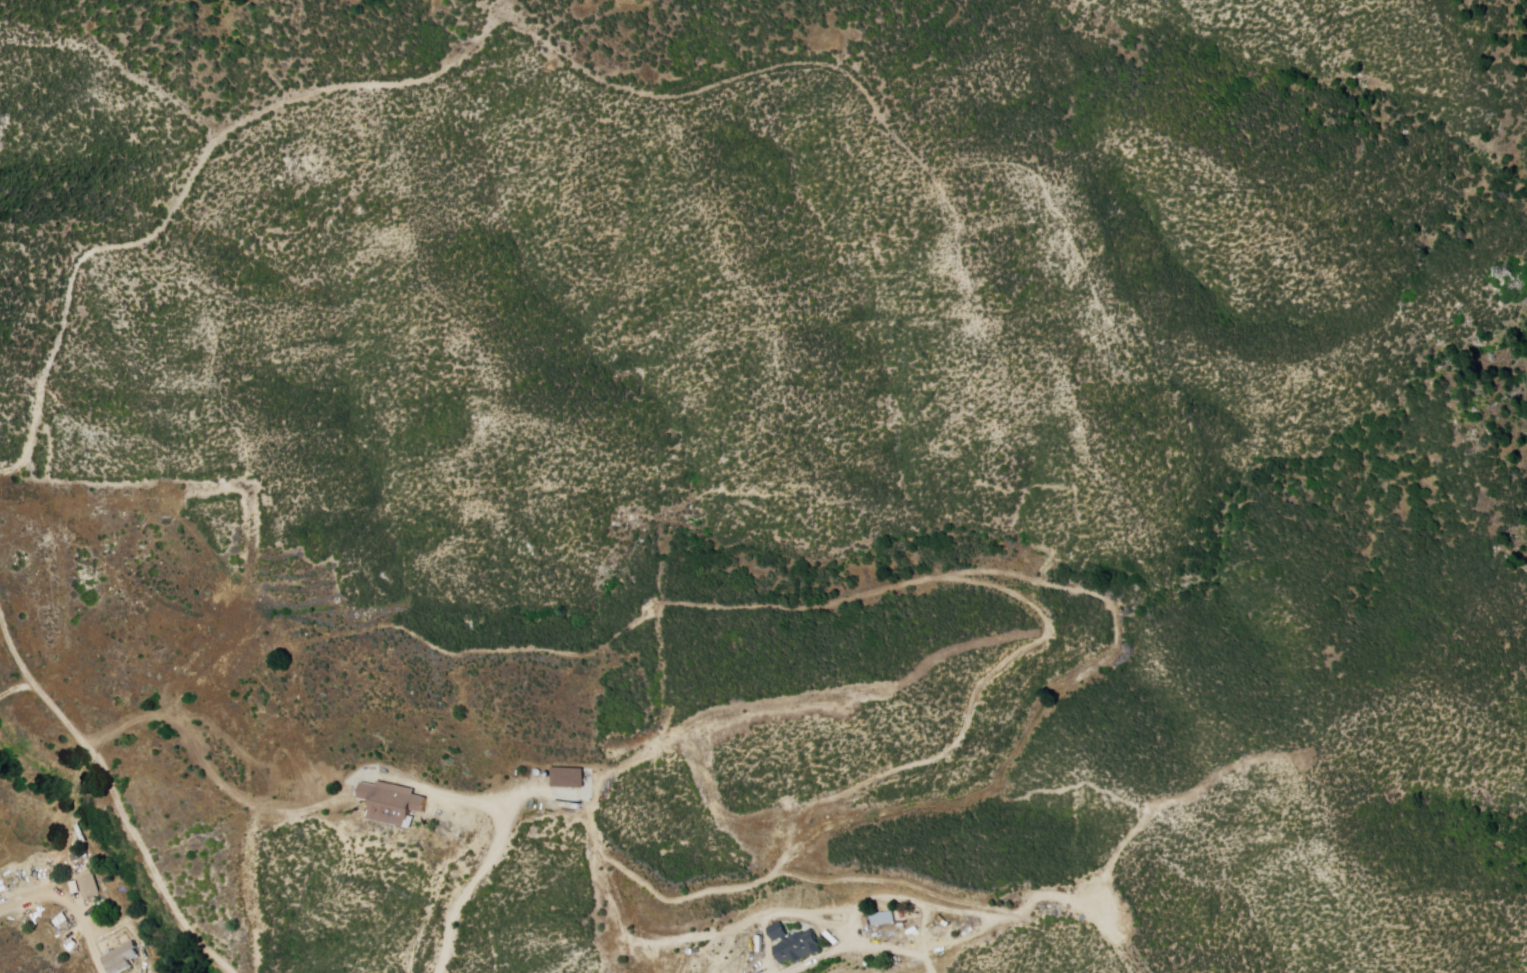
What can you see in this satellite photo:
building: (568, 777)
road: (112, 791)
building: (391, 802)
building: (89, 884)
road: (474, 884)
building: (884, 916)
building: (795, 942)
building: (122, 958)
road: (98, 963)

